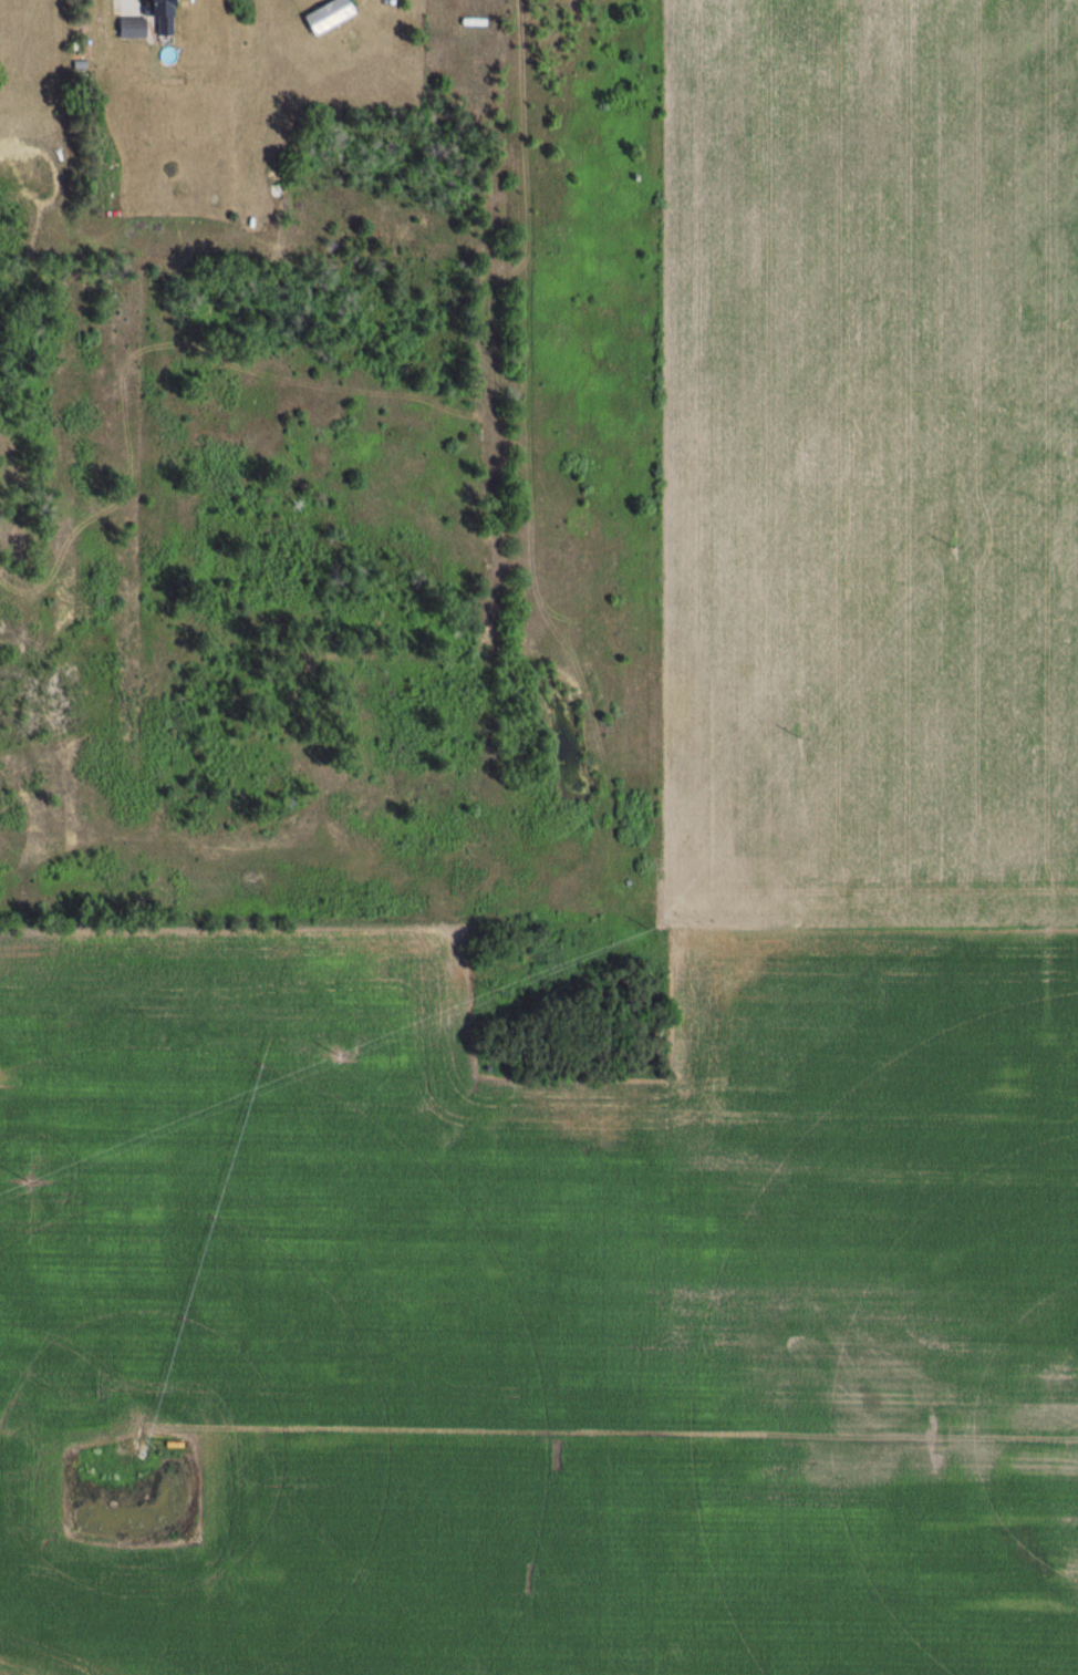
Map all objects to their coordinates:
building: (160, 14)
building: (325, 14)
building: (131, 28)

